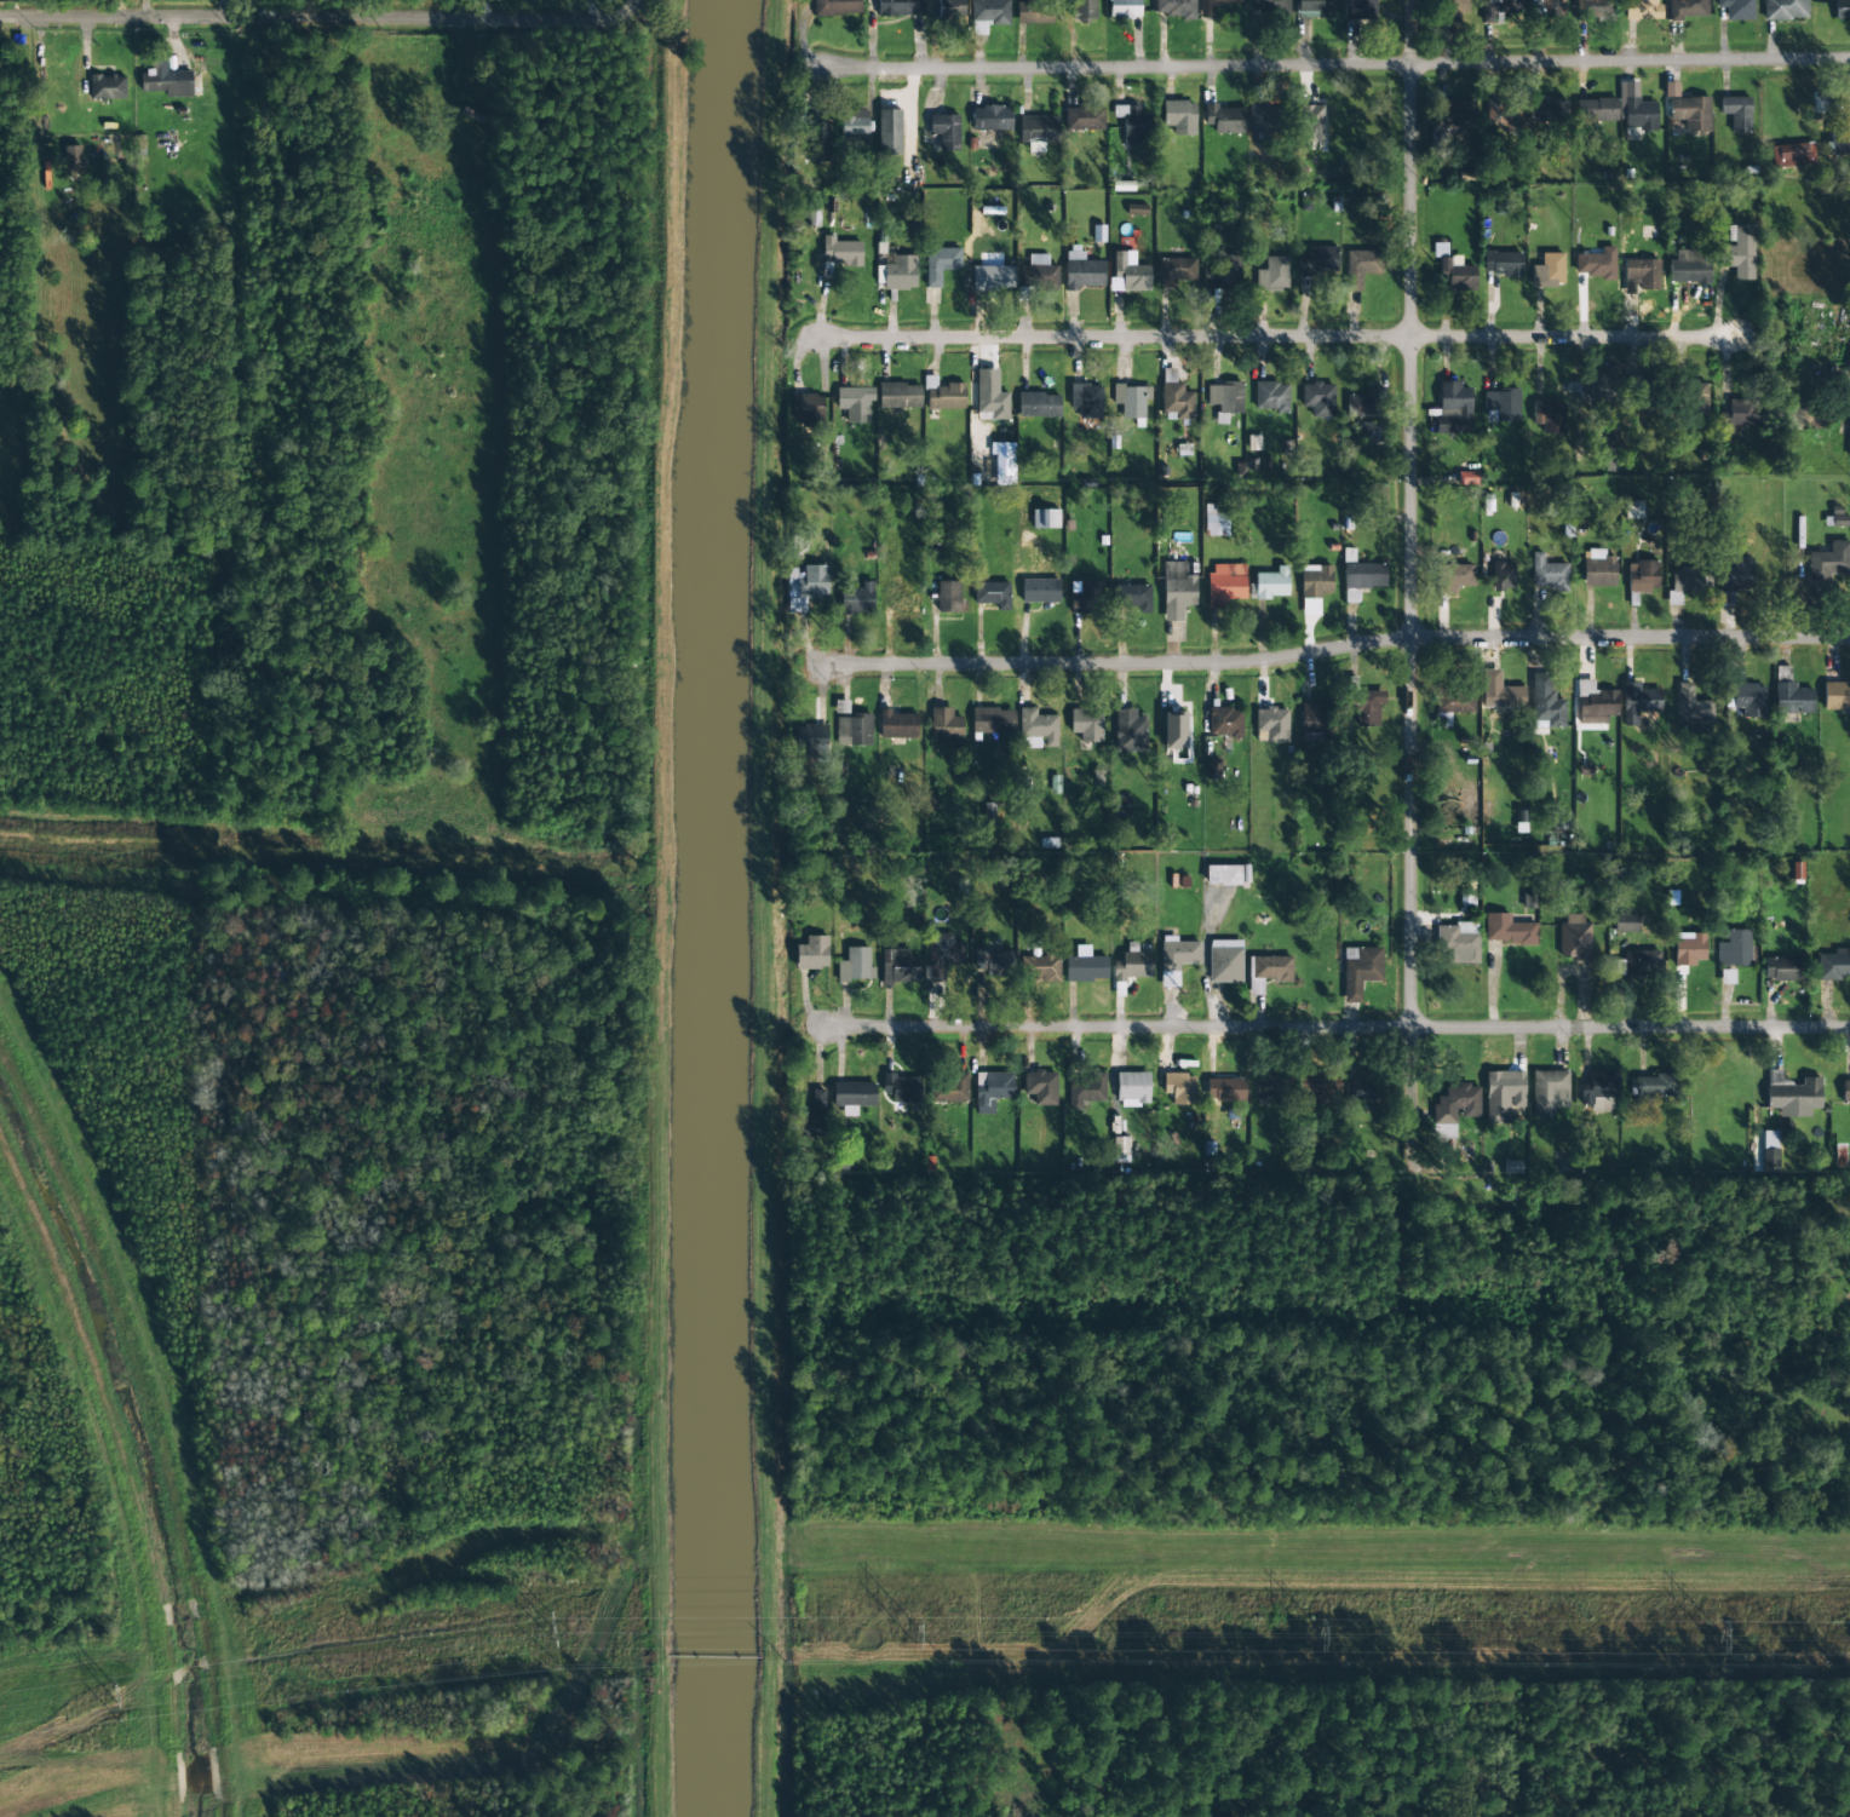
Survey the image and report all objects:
building: (1269, 5)
building: (837, 7)
building: (901, 7)
building: (1124, 8)
building: (1174, 8)
building: (1314, 8)
building: (1552, 8)
building: (1641, 8)
building: (1685, 8)
building: (950, 10)
building: (1084, 10)
building: (1358, 10)
building: (1499, 10)
building: (1593, 10)
building: (1736, 10)
building: (1785, 10)
building: (1842, 10)
building: (1206, 11)
building: (1453, 11)
building: (1033, 12)
building: (988, 15)
road: (281, 18)
road: (602, 21)
road: (1337, 64)
building: (205, 79)
building: (166, 81)
building: (107, 87)
building: (1820, 105)
building: (1634, 109)
building: (1596, 110)
building: (1687, 110)
building: (1547, 111)
building: (1736, 113)
building: (1455, 114)
building: (1503, 115)
building: (1179, 117)
building: (992, 119)
building: (1084, 119)
building: (1223, 119)
building: (1262, 120)
building: (1132, 123)
building: (1310, 123)
building: (854, 130)
building: (946, 131)
building: (889, 132)
building: (1038, 132)
building: (817, 142)
building: (1839, 142)
building: (71, 156)
building: (1791, 156)
building: (1136, 209)
building: (840, 252)
building: (1737, 252)
building: (1318, 261)
building: (940, 264)
building: (1501, 264)
building: (1597, 264)
building: (1361, 268)
building: (1689, 268)
building: (1082, 271)
building: (1174, 271)
building: (1454, 271)
building: (1547, 271)
building: (1220, 272)
building: (897, 274)
building: (1128, 274)
building: (1272, 275)
building: (1641, 276)
building: (992, 277)
building: (1036, 277)
road: (1277, 338)
building: (1848, 363)
building: (1596, 390)
building: (1638, 390)
building: (943, 395)
building: (898, 396)
building: (990, 396)
building: (1225, 397)
building: (1270, 397)
building: (1317, 398)
building: (1695, 398)
building: (1086, 401)
building: (1131, 401)
building: (1176, 402)
building: (854, 404)
building: (1364, 404)
building: (1503, 404)
building: (1038, 406)
building: (1453, 408)
building: (806, 410)
building: (1547, 415)
building: (1736, 415)
building: (1371, 432)
building: (1848, 435)
park: (18, 448)
building: (1632, 510)
building: (1045, 518)
building: (1216, 521)
building: (1828, 562)
building: (1597, 569)
building: (1361, 573)
building: (1549, 574)
building: (1503, 576)
building: (1642, 576)
road: (1411, 577)
building: (1454, 577)
building: (1734, 577)
building: (1685, 580)
building: (1316, 581)
building: (1225, 583)
building: (1270, 585)
building: (805, 586)
building: (1040, 591)
building: (1177, 591)
building: (992, 594)
building: (948, 596)
building: (1084, 597)
building: (1132, 597)
building: (1673, 598)
building: (857, 599)
building: (900, 602)
building: (1310, 606)
road: (1337, 646)
building: (1499, 692)
building: (1789, 694)
building: (1835, 696)
building: (1454, 700)
building: (1748, 700)
building: (1637, 702)
building: (1545, 703)
building: (1595, 703)
building: (1367, 707)
building: (1691, 707)
building: (1311, 718)
building: (992, 721)
building: (1225, 723)
building: (1271, 724)
building: (897, 725)
building: (946, 725)
building: (1086, 725)
building: (1038, 729)
building: (854, 730)
building: (1173, 730)
building: (1130, 731)
building: (811, 742)
building: (1121, 806)
building: (1226, 875)
building: (1625, 924)
building: (1507, 930)
building: (1574, 938)
building: (1457, 943)
building: (1689, 949)
building: (1733, 949)
building: (944, 950)
building: (812, 954)
building: (993, 959)
building: (1176, 959)
building: (1224, 961)
building: (1132, 964)
building: (855, 965)
building: (1833, 965)
building: (1085, 966)
building: (1630, 966)
building: (898, 967)
building: (1040, 968)
building: (1360, 970)
building: (1781, 970)
building: (1266, 972)
building: (936, 973)
building: (1727, 977)
road: (1338, 1027)
building: (1317, 1085)
building: (1655, 1086)
building: (1040, 1087)
building: (1270, 1087)
building: (901, 1088)
building: (949, 1088)
building: (1180, 1088)
building: (1086, 1089)
building: (1132, 1089)
building: (1225, 1089)
building: (1357, 1089)
building: (992, 1091)
building: (1845, 1092)
building: (1549, 1093)
building: (1504, 1094)
building: (1792, 1096)
building: (1457, 1104)
building: (814, 1116)
building: (1769, 1149)
building: (1120, 1150)
building: (1849, 1283)
power tower: (909, 1631)
power tower: (1710, 1632)
power tower: (1315, 1634)
power tower: (541, 1638)
power tower: (105, 1701)

